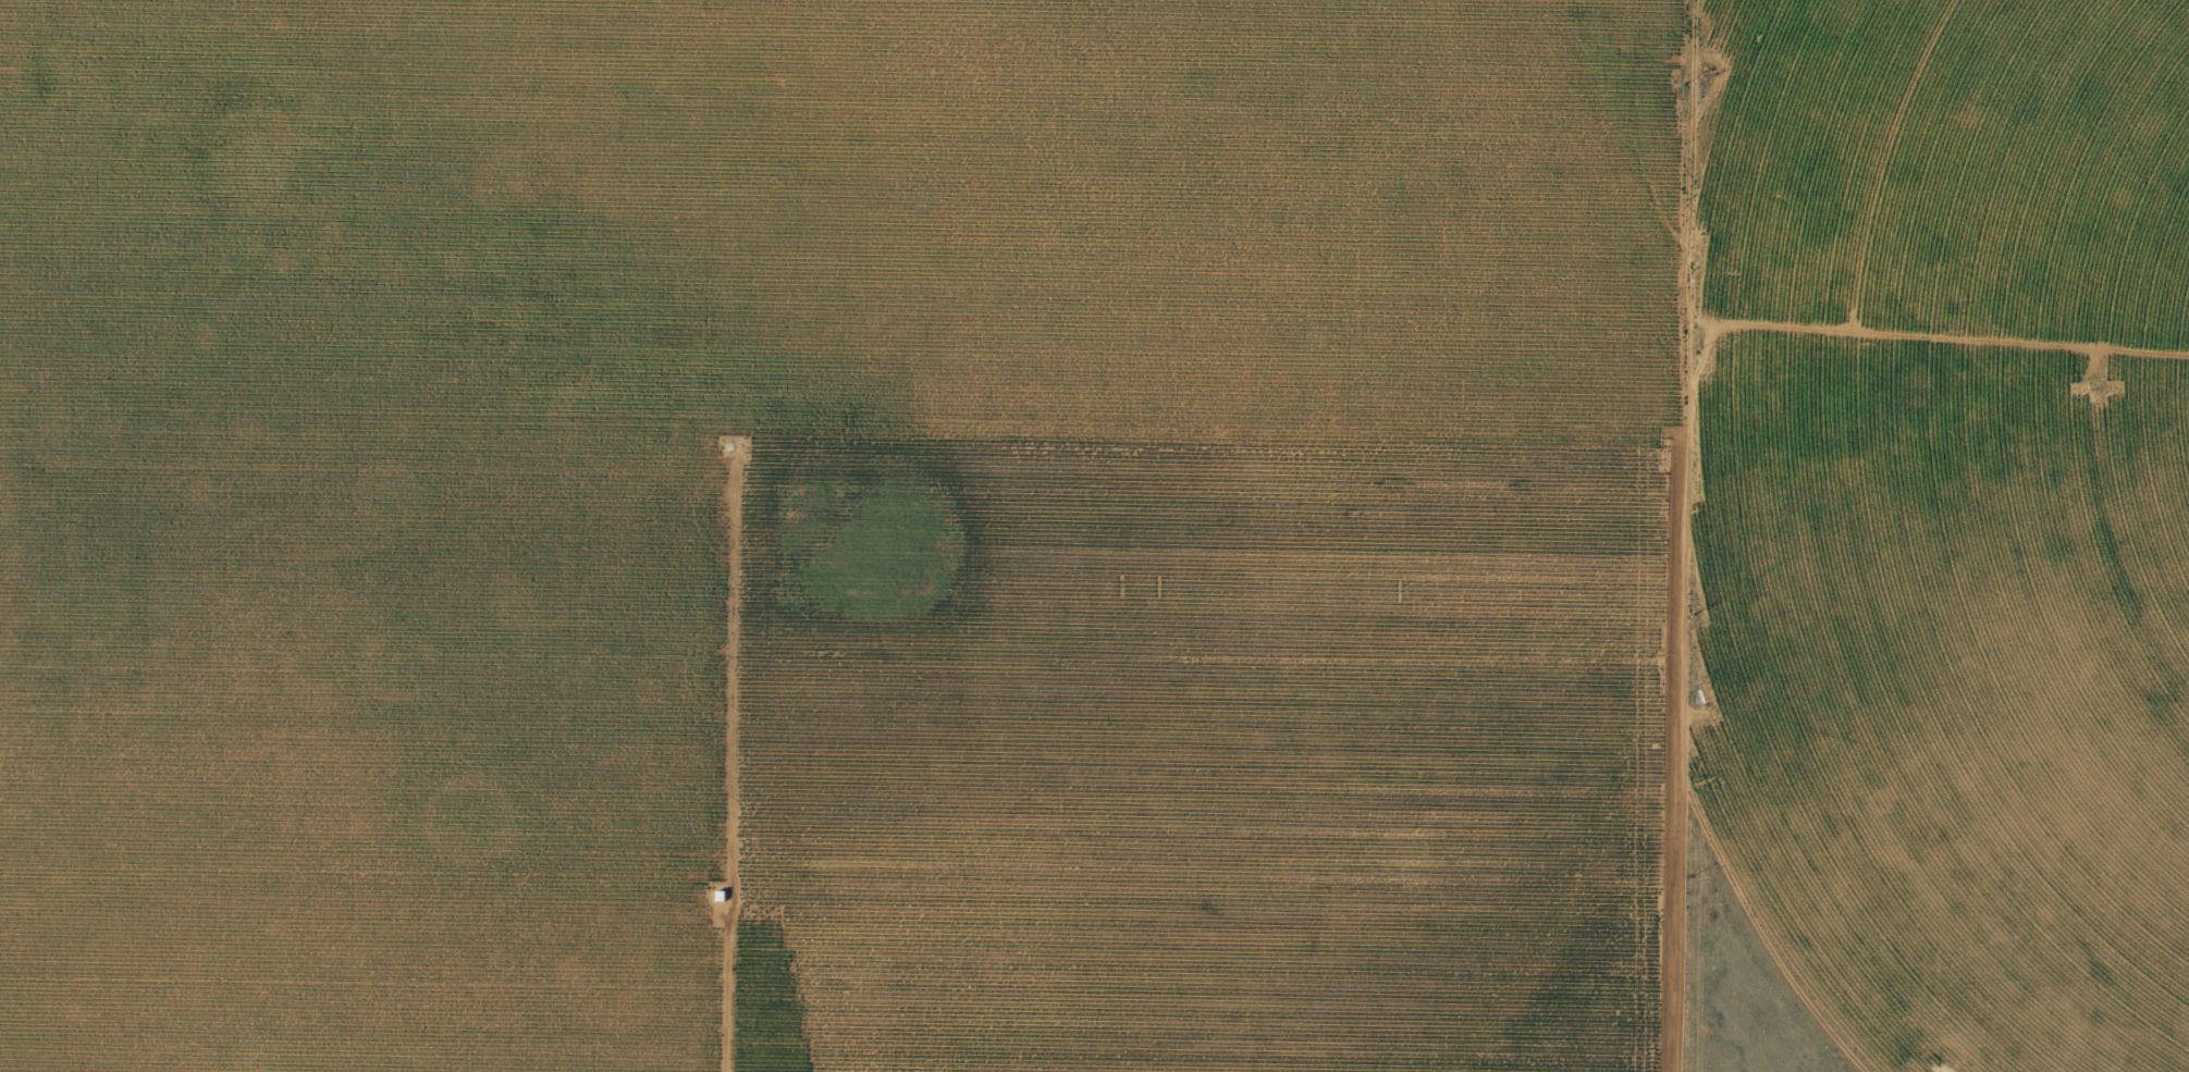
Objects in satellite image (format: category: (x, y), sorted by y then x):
road: (1705, 535)

